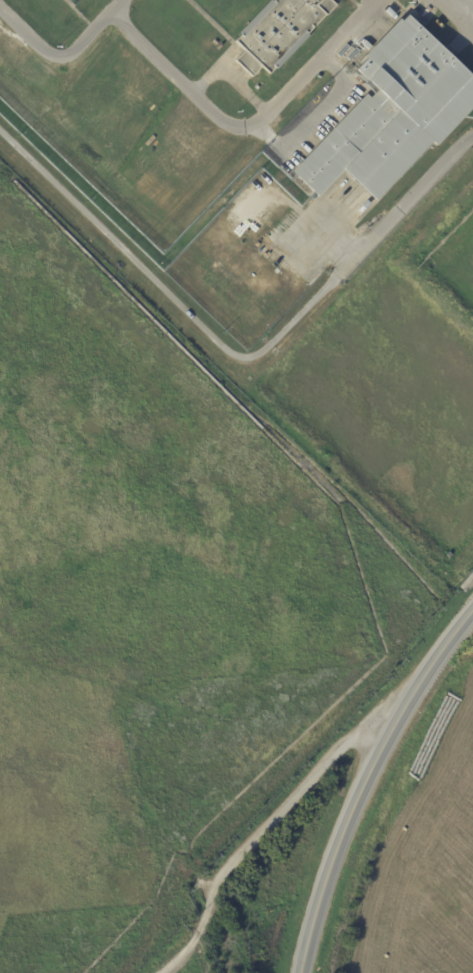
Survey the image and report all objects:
road: (470, 5)
road: (472, 8)
building: (278, 32)
road: (59, 53)
road: (231, 76)
building: (392, 114)
road: (316, 118)
road: (242, 123)
road: (409, 196)
building: (263, 249)
road: (172, 299)
airport: (156, 611)
road: (368, 783)
road: (281, 815)
road: (180, 950)

